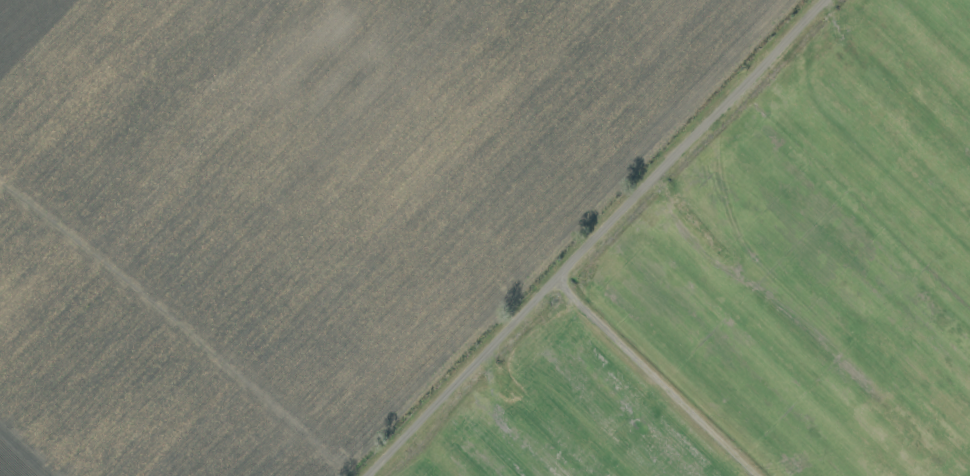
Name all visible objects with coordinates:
road: (584, 238)

